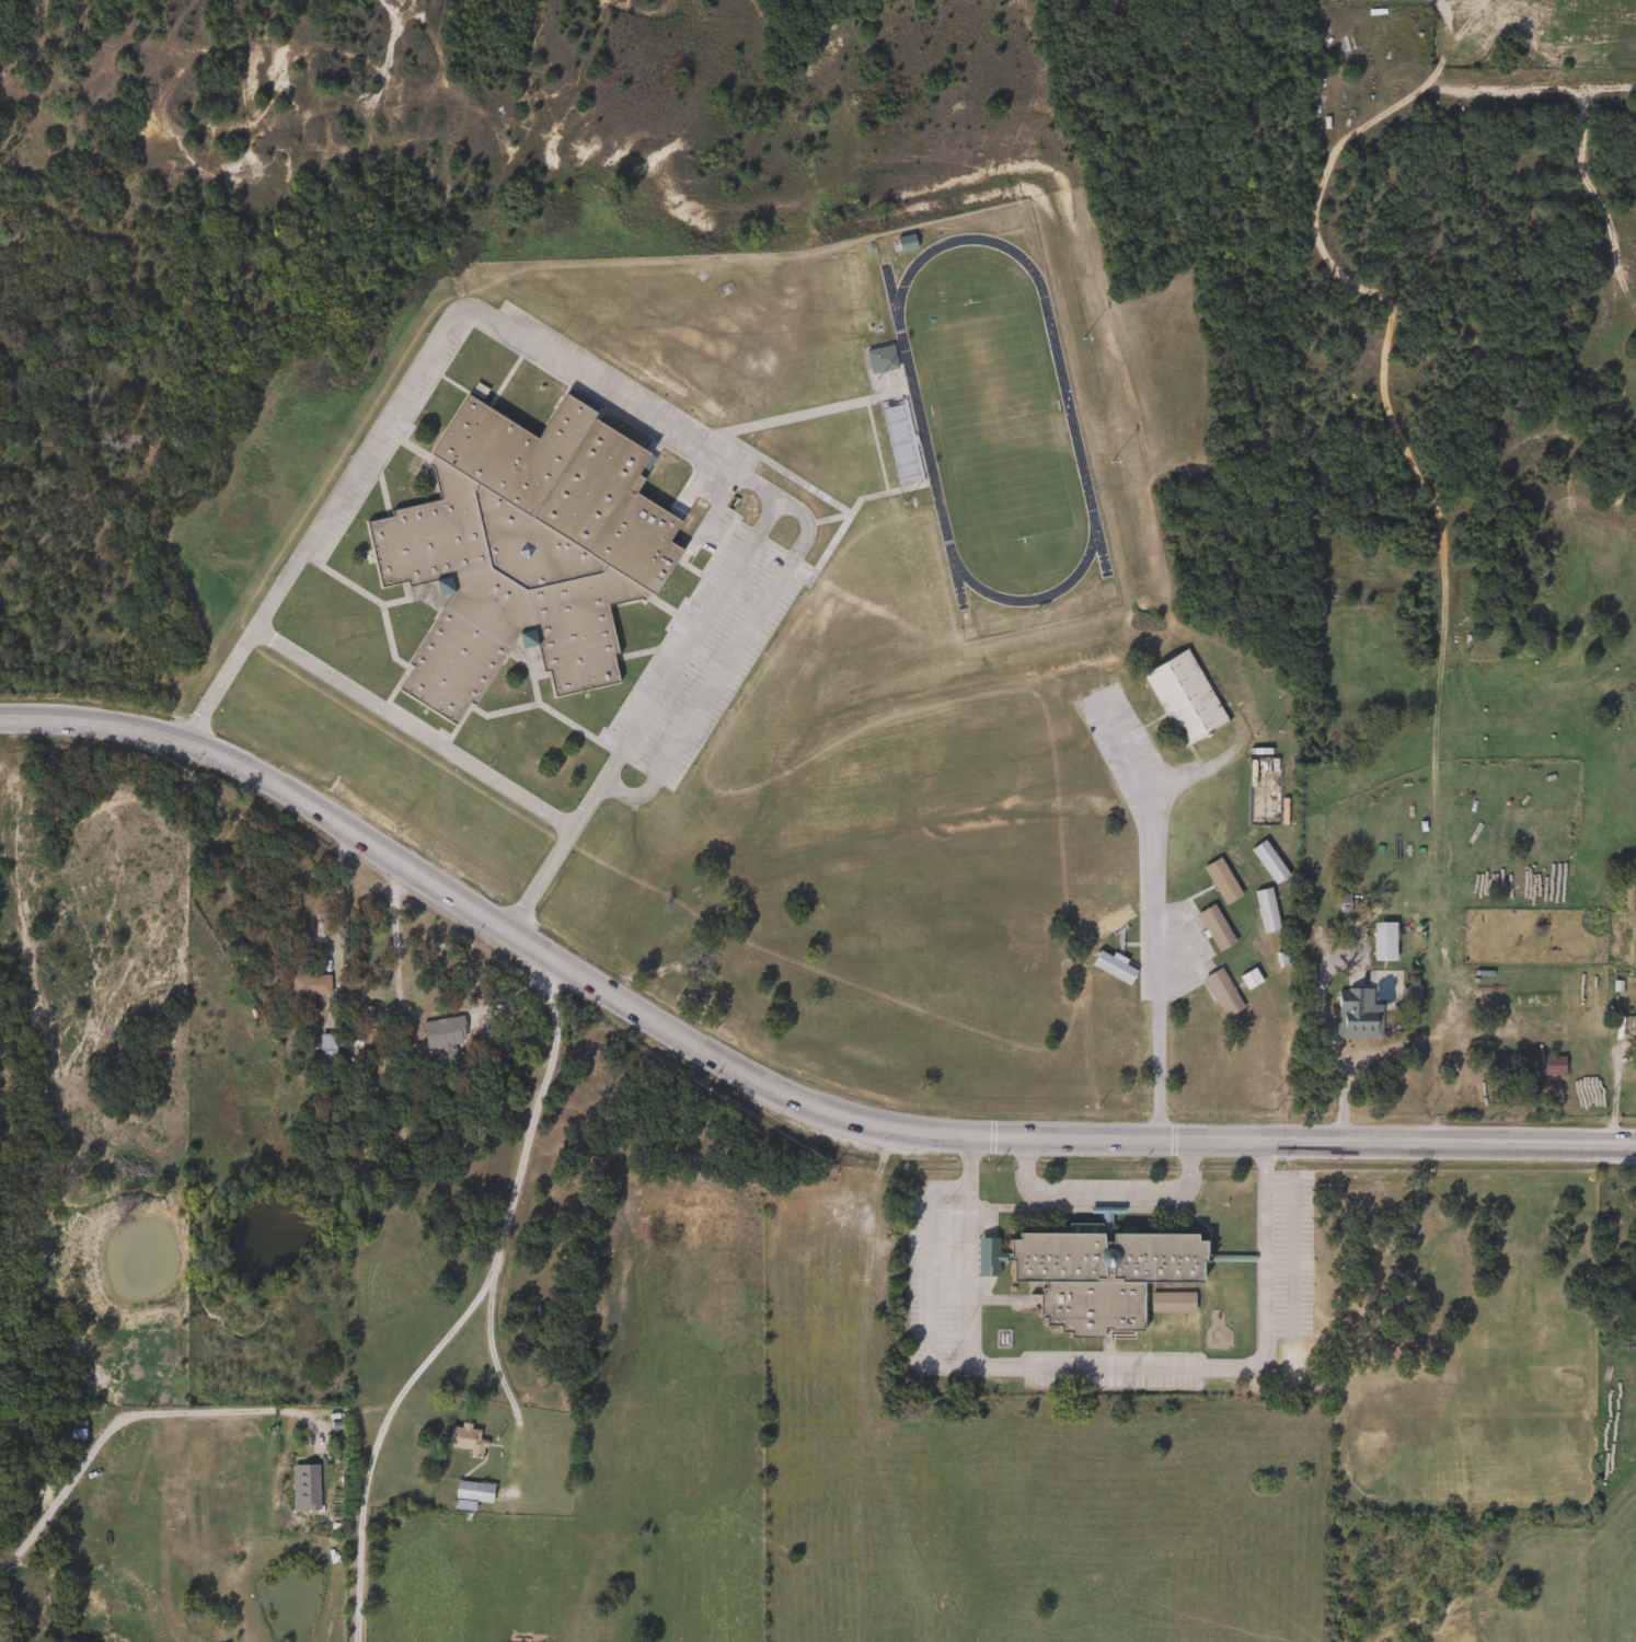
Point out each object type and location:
road: (864, 354)
building: (877, 358)
road: (518, 359)
road: (463, 390)
road: (609, 397)
park: (991, 419)
stadium: (990, 421)
building: (897, 438)
road: (923, 483)
road: (883, 489)
road: (433, 493)
road: (834, 512)
road: (388, 513)
road: (836, 519)
building: (525, 546)
road: (684, 563)
road: (668, 606)
road: (383, 615)
parking lot: (722, 616)
road: (729, 652)
road: (646, 655)
road: (523, 680)
building: (1183, 697)
parking lot: (406, 728)
road: (407, 729)
road: (316, 918)
road: (1155, 918)
road: (391, 921)
building: (1212, 930)
building: (1382, 941)
building: (1248, 979)
building: (301, 991)
building: (1220, 994)
building: (1355, 1014)
building: (1632, 1025)
building: (441, 1037)
building: (324, 1055)
building: (1551, 1065)
road: (771, 1089)
road: (1341, 1090)
parking lot: (1105, 1193)
road: (1098, 1194)
road: (1289, 1253)
building: (984, 1258)
road: (1251, 1262)
building: (1101, 1276)
parking lot: (937, 1284)
road: (919, 1286)
building: (1171, 1296)
road: (470, 1306)
building: (1153, 1306)
road: (494, 1360)
road: (1107, 1369)
road: (164, 1411)
building: (65, 1434)
building: (463, 1441)
building: (302, 1489)
building: (469, 1494)

